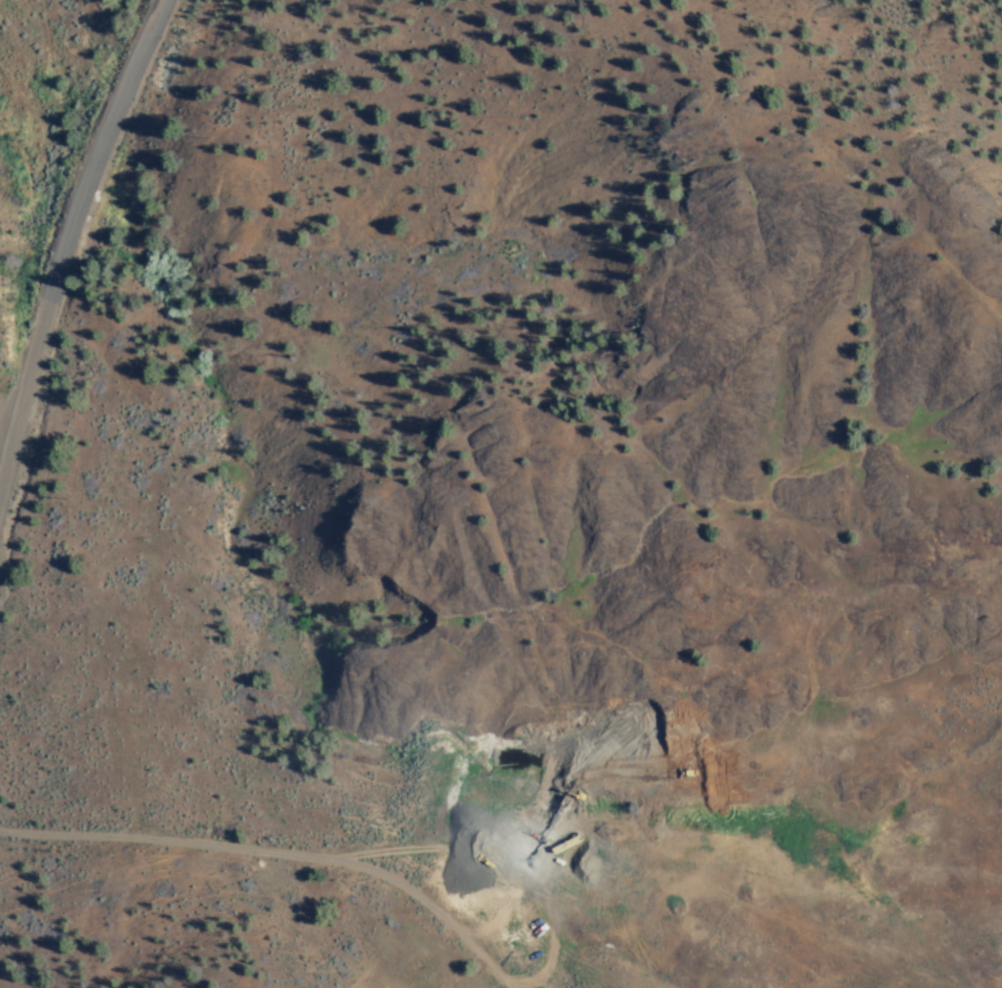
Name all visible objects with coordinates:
road: (909, 3)
road: (65, 225)

